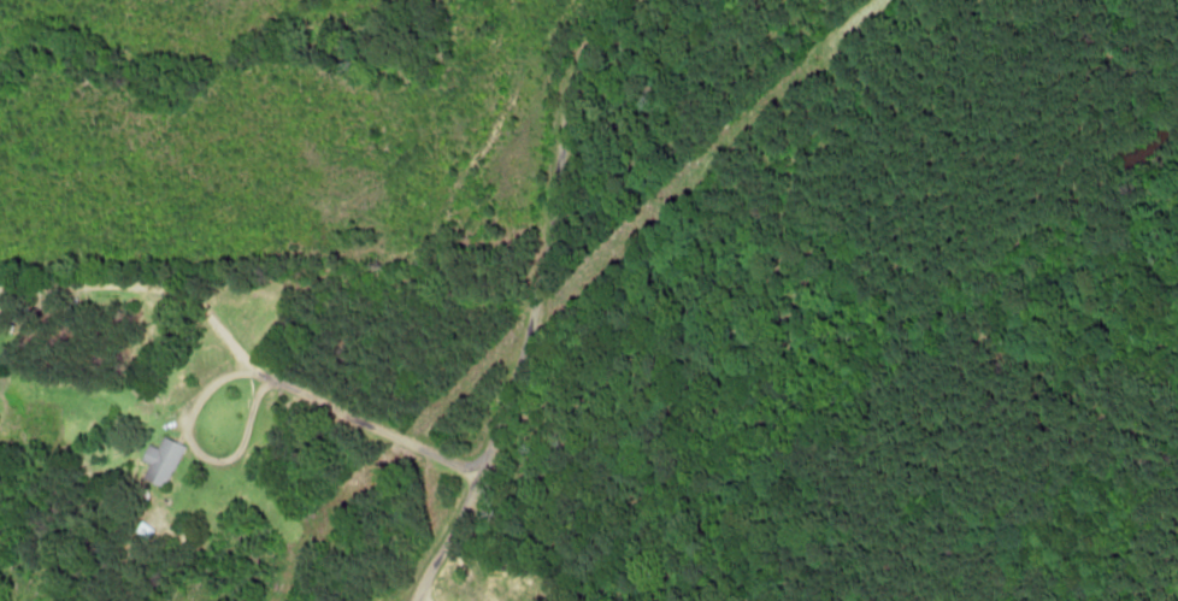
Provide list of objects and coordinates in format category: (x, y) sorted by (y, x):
road: (525, 294)
building: (159, 462)

